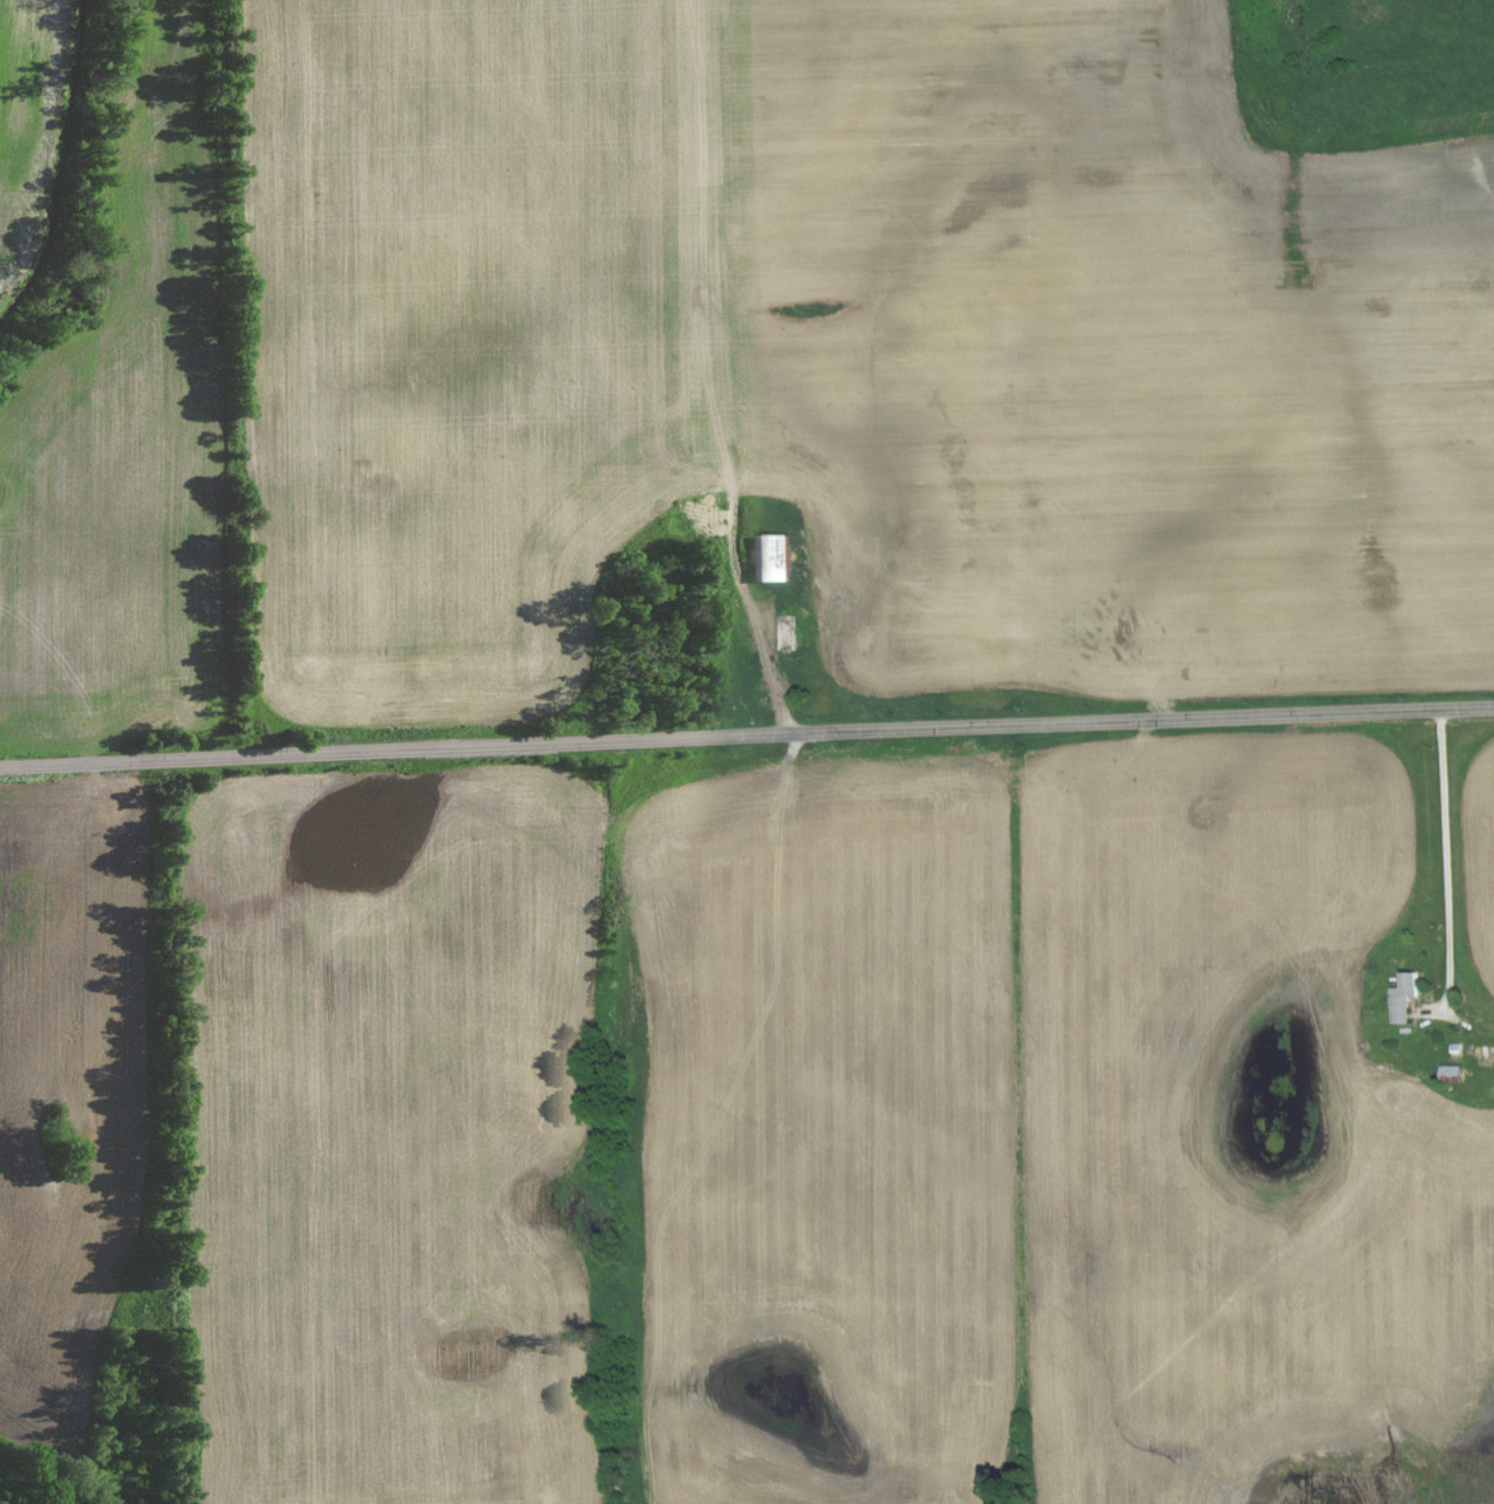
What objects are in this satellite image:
building: (782, 556)
building: (801, 622)
road: (746, 734)
building: (1398, 997)
building: (1445, 1072)

